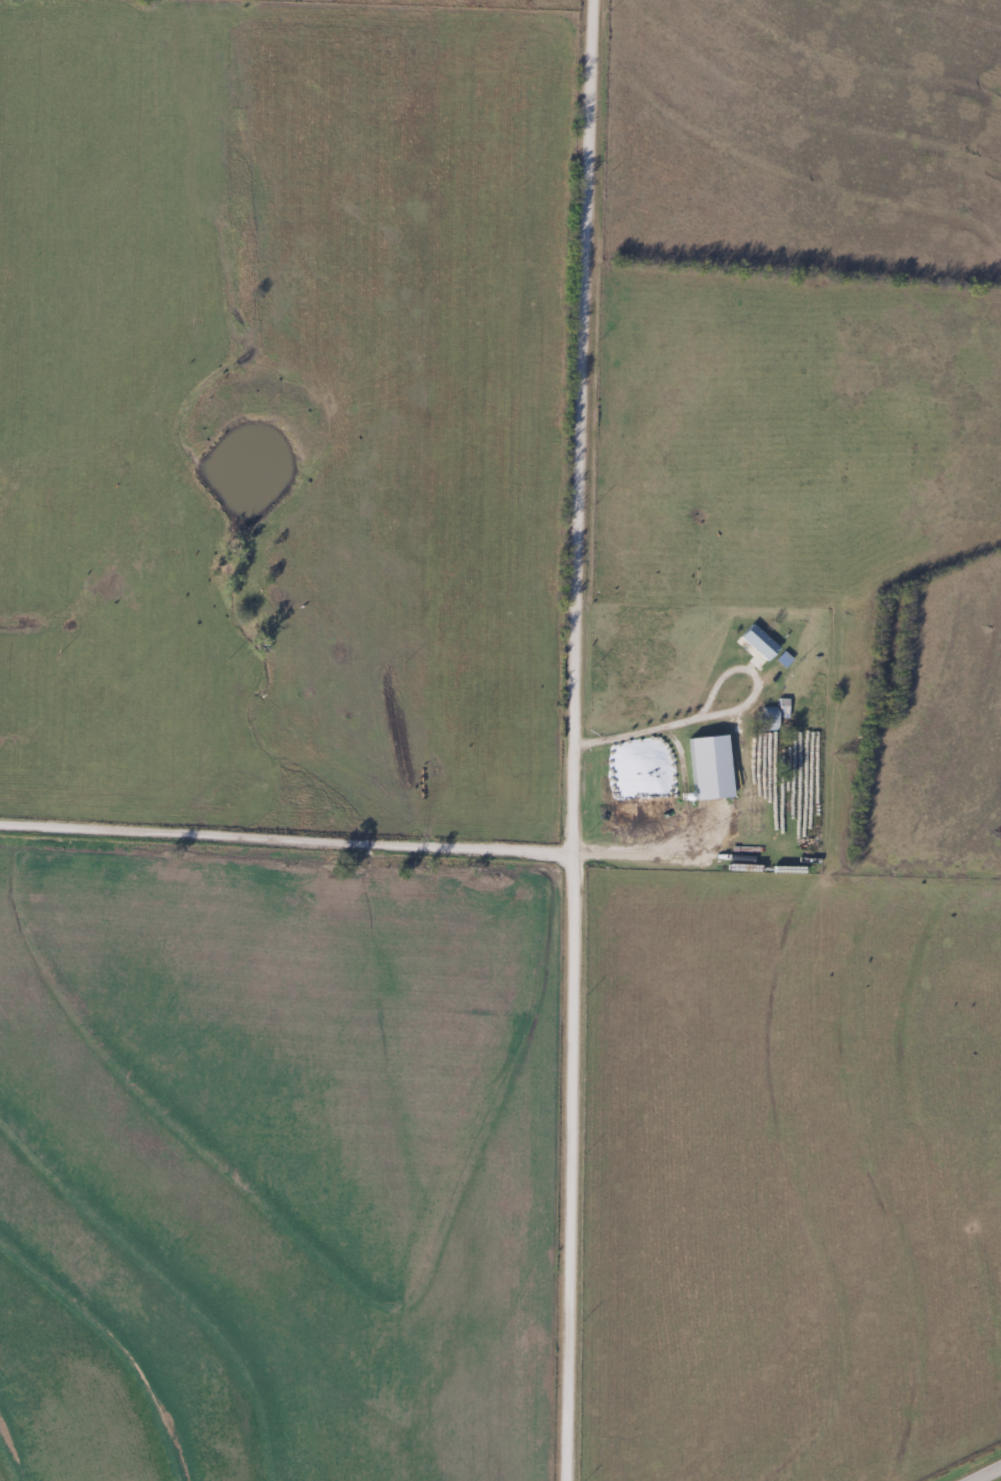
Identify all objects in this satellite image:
building: (758, 644)
building: (783, 661)
building: (782, 709)
road: (710, 719)
building: (768, 719)
road: (569, 740)
building: (767, 743)
road: (283, 841)
road: (654, 855)
road: (987, 1474)

